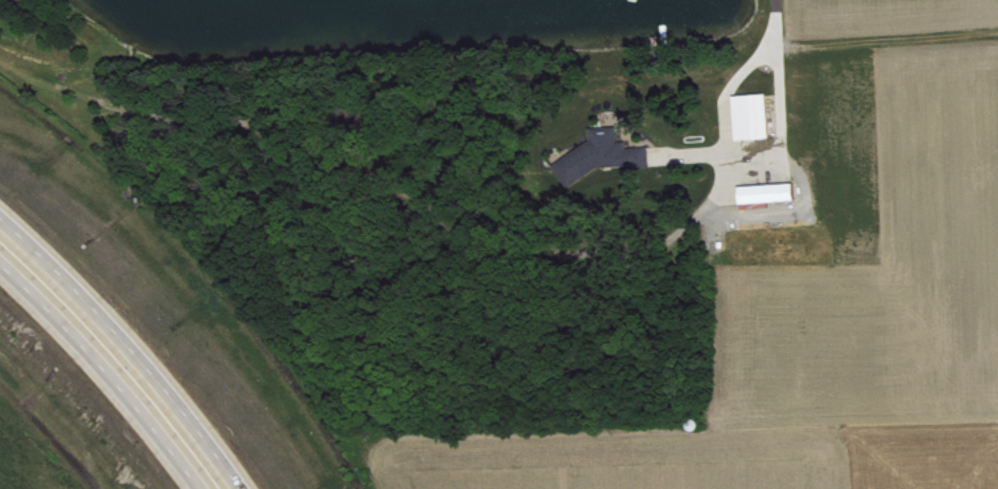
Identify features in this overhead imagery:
road: (727, 90)
building: (757, 121)
road: (778, 128)
building: (607, 160)
building: (773, 198)
road: (128, 345)
road: (111, 365)

